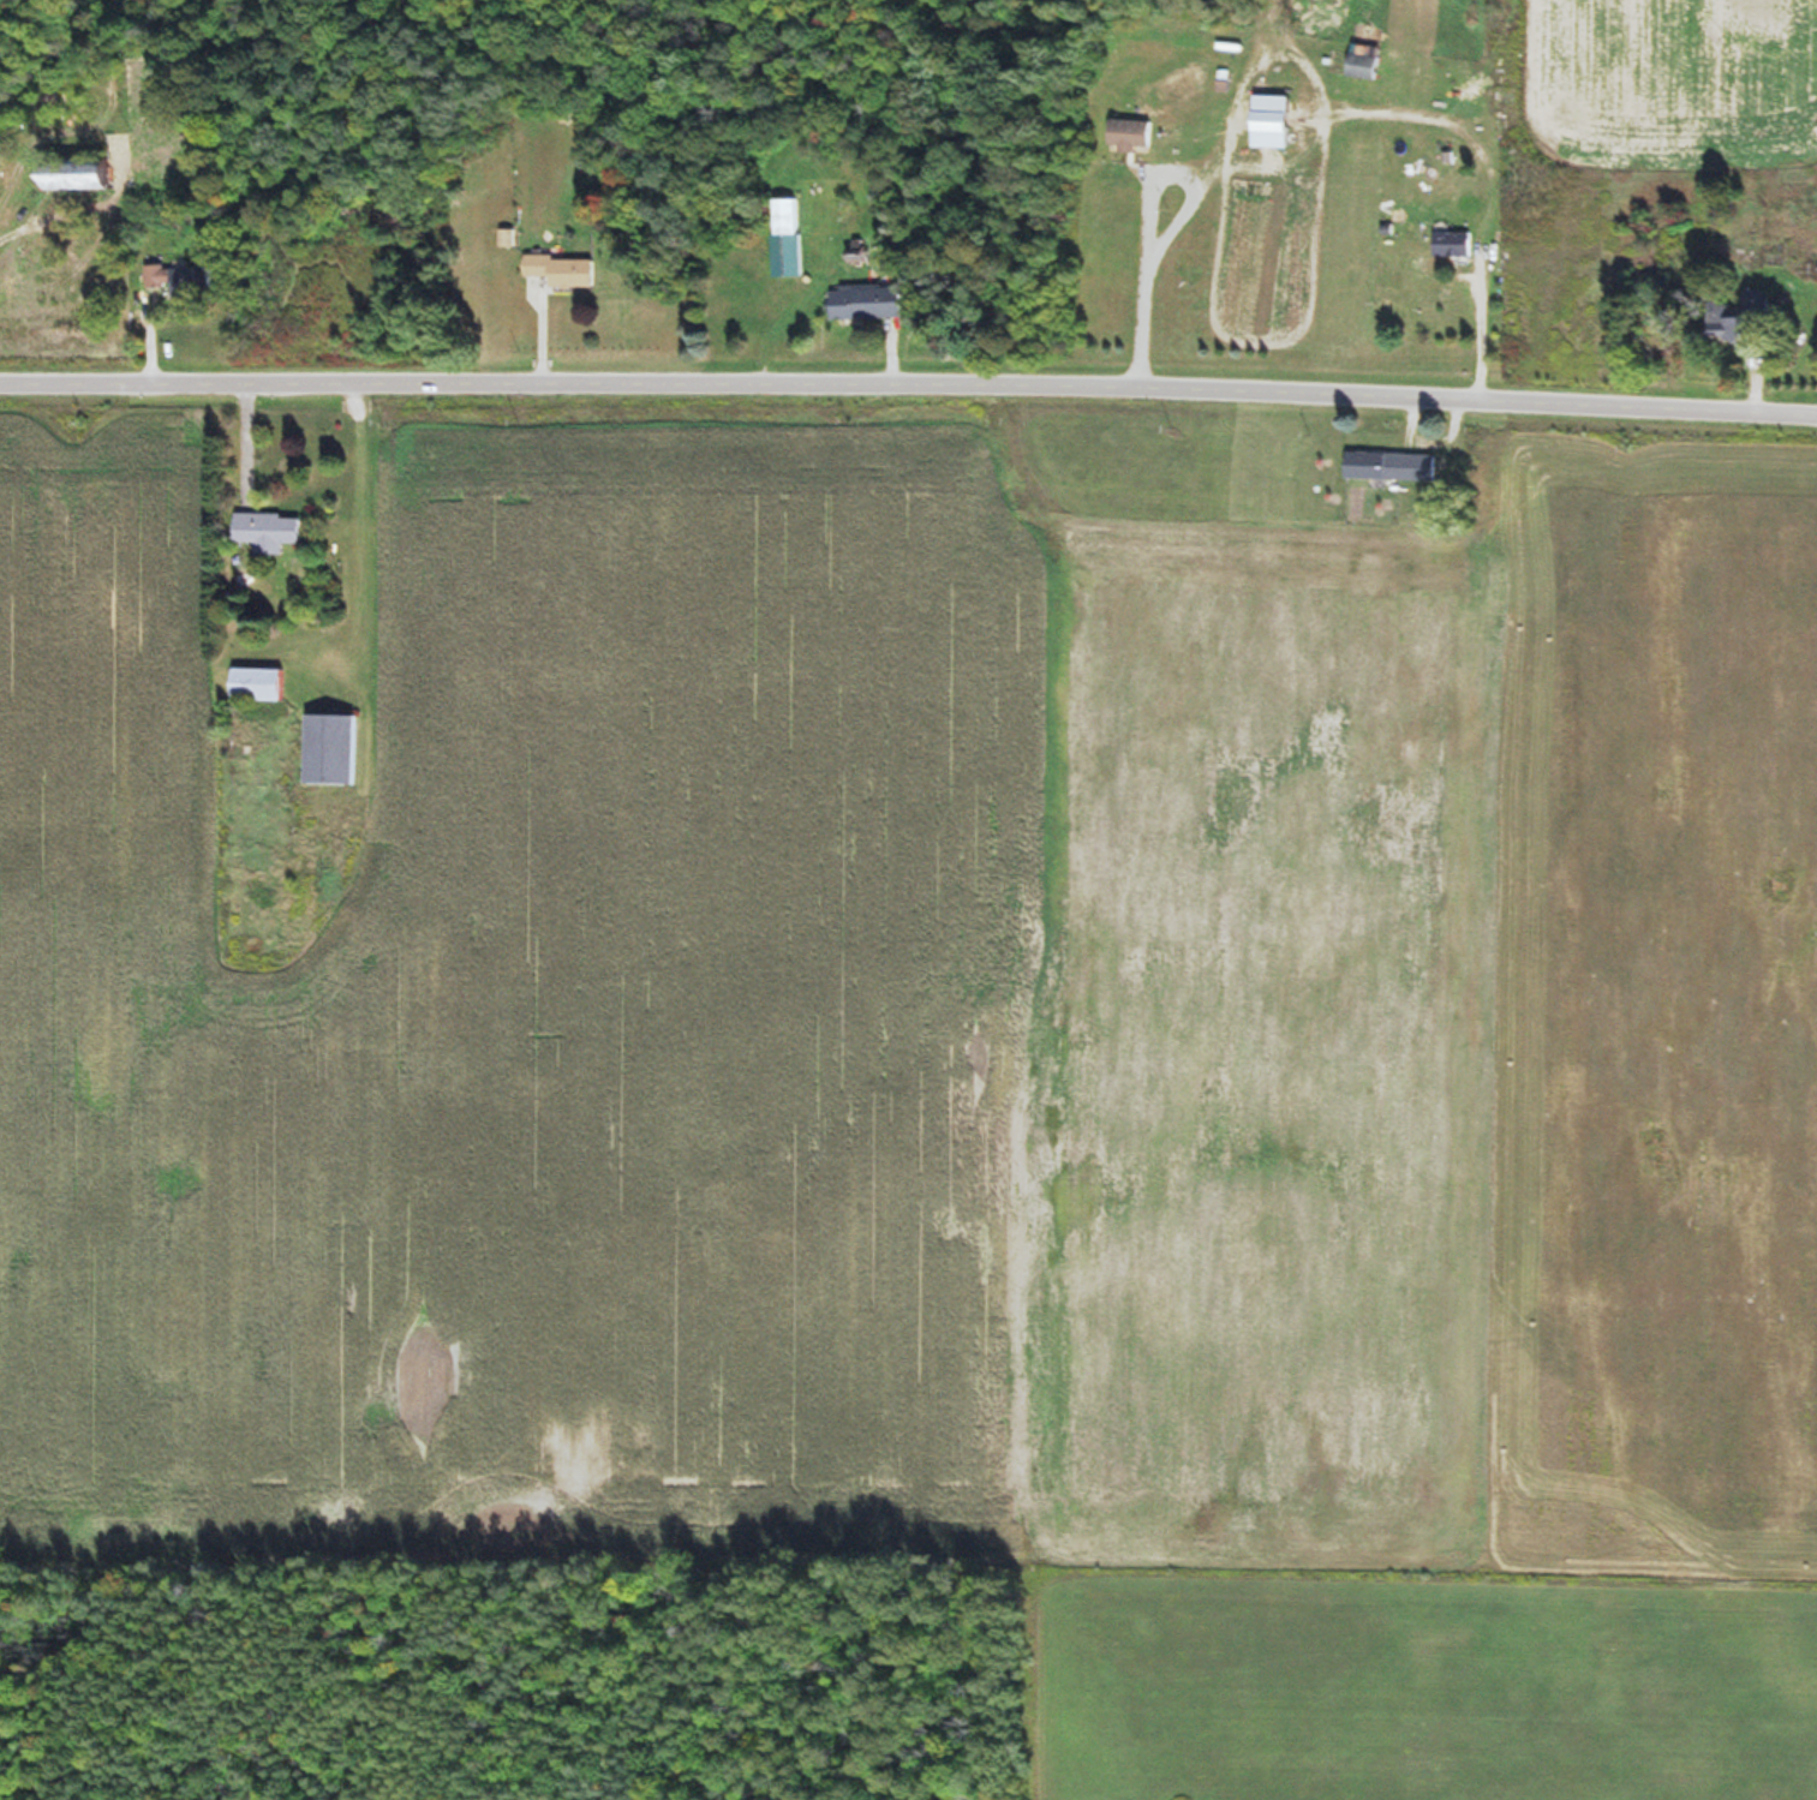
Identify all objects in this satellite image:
building: (1353, 64)
building: (1125, 134)
building: (67, 174)
building: (783, 238)
building: (1453, 240)
building: (557, 270)
building: (177, 280)
building: (861, 303)
building: (1713, 328)
road: (908, 389)
building: (1391, 466)
building: (263, 531)
building: (251, 684)
building: (327, 749)

